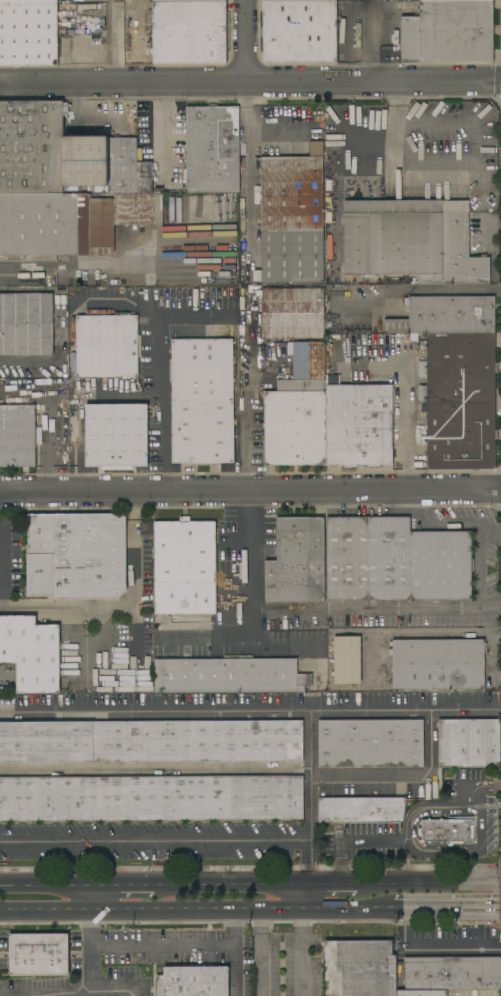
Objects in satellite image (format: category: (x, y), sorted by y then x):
building: (287, 0)
building: (188, 1)
building: (456, 1)
building: (90, 28)
building: (299, 31)
building: (188, 32)
building: (28, 33)
building: (448, 33)
road: (249, 41)
road: (111, 42)
road: (250, 82)
building: (212, 149)
building: (58, 153)
building: (144, 177)
building: (292, 217)
building: (71, 222)
building: (411, 241)
road: (75, 267)
road: (249, 286)
road: (425, 291)
building: (292, 312)
building: (446, 315)
building: (29, 322)
building: (105, 344)
road: (159, 354)
building: (308, 360)
building: (63, 365)
road: (120, 397)
building: (459, 400)
building: (202, 401)
road: (406, 403)
building: (295, 423)
building: (359, 425)
building: (17, 436)
building: (116, 436)
road: (250, 490)
building: (76, 556)
building: (395, 561)
building: (296, 562)
road: (3, 565)
building: (184, 567)
road: (119, 604)
road: (251, 610)
road: (492, 610)
road: (416, 611)
building: (31, 653)
building: (347, 660)
building: (438, 664)
building: (228, 675)
road: (250, 710)
building: (151, 741)
building: (370, 743)
building: (469, 743)
road: (154, 769)
road: (309, 775)
road: (402, 783)
road: (476, 787)
building: (150, 798)
building: (361, 809)
road: (478, 821)
building: (442, 831)
road: (192, 840)
road: (349, 840)
road: (231, 884)
road: (331, 884)
road: (429, 884)
road: (59, 885)
road: (138, 885)
road: (140, 894)
road: (197, 912)
road: (447, 912)
road: (439, 946)
road: (157, 949)
building: (38, 954)
road: (261, 954)
road: (301, 954)
building: (359, 968)
road: (86, 972)
road: (234, 972)
building: (452, 973)
building: (193, 981)
building: (422, 993)
road: (71, 994)

